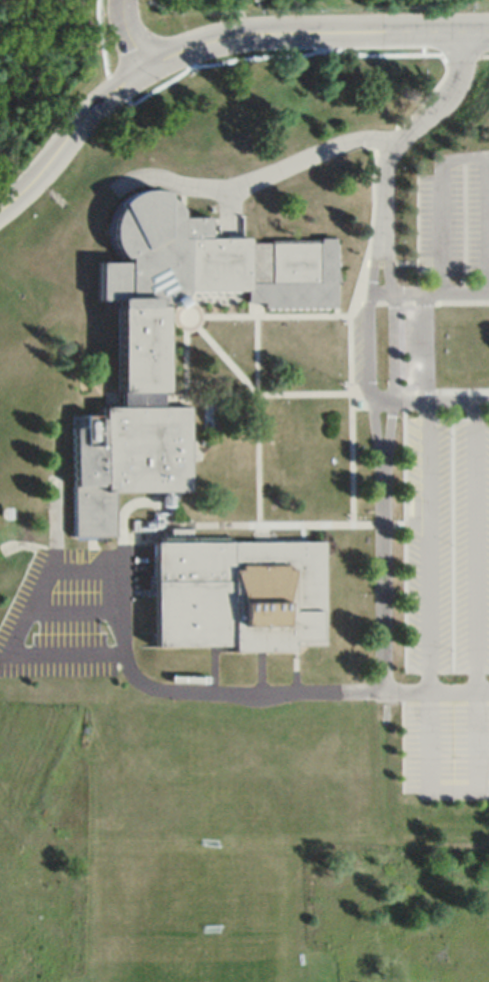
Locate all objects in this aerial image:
road: (314, 32)
road: (128, 35)
road: (64, 43)
road: (414, 128)
road: (68, 134)
road: (260, 177)
road: (441, 203)
road: (225, 209)
parking lot: (455, 216)
road: (417, 225)
road: (487, 225)
road: (369, 248)
building: (149, 249)
road: (388, 262)
road: (403, 263)
building: (264, 270)
road: (382, 293)
road: (440, 293)
road: (336, 298)
road: (420, 303)
road: (268, 315)
road: (372, 316)
building: (140, 345)
parking lot: (364, 345)
road: (393, 347)
parking lot: (419, 347)
road: (424, 347)
road: (217, 349)
road: (184, 368)
road: (336, 392)
road: (383, 402)
road: (440, 402)
road: (257, 412)
road: (375, 428)
road: (389, 429)
building: (132, 446)
building: (93, 511)
road: (289, 525)
road: (257, 528)
road: (265, 528)
road: (404, 532)
road: (302, 533)
road: (258, 538)
road: (265, 538)
road: (92, 553)
road: (383, 586)
building: (239, 594)
road: (474, 596)
parking lot: (447, 608)
parking lot: (74, 611)
road: (75, 612)
road: (425, 627)
road: (18, 631)
road: (213, 661)
road: (295, 668)
road: (259, 671)
road: (248, 691)
road: (403, 741)
park: (199, 917)

